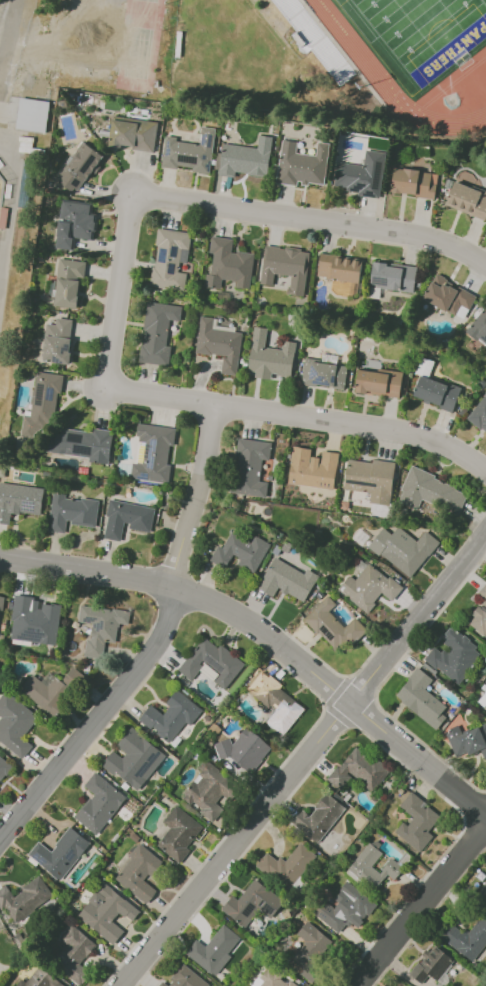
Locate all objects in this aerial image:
park: (426, 31)
park: (418, 33)
building: (315, 39)
track: (391, 78)
track: (454, 81)
building: (31, 114)
building: (135, 135)
rooftop solar panel: (209, 139)
rooftop solar panel: (203, 140)
rooftop solar panel: (167, 150)
building: (190, 152)
rooftop solar panel: (203, 157)
building: (247, 158)
rooftop solar panel: (187, 159)
building: (303, 164)
rooftop solar panel: (207, 166)
building: (80, 168)
building: (362, 175)
rooftop solar panel: (377, 182)
building: (415, 183)
park: (1, 187)
rooftop solar panel: (358, 187)
rooftop solar panel: (368, 192)
building: (468, 200)
building: (76, 223)
rooftop solar panel: (174, 250)
rooftop solar panel: (161, 254)
rooftop solar panel: (184, 254)
building: (169, 260)
building: (229, 265)
building: (285, 266)
rooftop solar panel: (171, 268)
building: (339, 268)
building: (393, 276)
rooftop solar panel: (380, 281)
building: (70, 282)
building: (449, 296)
road: (120, 303)
building: (479, 327)
building: (158, 334)
building: (57, 343)
building: (221, 344)
rooftop solar panel: (67, 347)
building: (269, 356)
rooftop solar panel: (59, 360)
rooftop solar panel: (315, 371)
building: (323, 374)
rooftop solar panel: (334, 378)
rooftop solar panel: (321, 380)
building: (379, 382)
rooftop solar panel: (66, 386)
building: (434, 389)
rooftop solar panel: (40, 390)
rooftop solar panel: (50, 390)
building: (46, 399)
building: (479, 414)
building: (82, 442)
rooftop solar panel: (63, 448)
rooftop solar panel: (83, 451)
rooftop solar panel: (150, 453)
building: (154, 454)
building: (249, 467)
building: (312, 468)
rooftop solar panel: (21, 473)
building: (369, 479)
building: (431, 492)
building: (18, 500)
rooftop solar panel: (27, 505)
building: (74, 513)
building: (126, 519)
building: (402, 549)
building: (240, 551)
building: (286, 580)
building: (368, 587)
building: (1, 601)
building: (479, 614)
building: (34, 620)
building: (332, 625)
building: (100, 626)
rooftop solar panel: (325, 632)
rooftop solar panel: (32, 634)
road: (265, 635)
road: (157, 649)
building: (453, 655)
building: (211, 662)
building: (51, 690)
building: (421, 698)
building: (274, 701)
building: (484, 706)
building: (170, 715)
building: (14, 723)
building: (468, 740)
building: (243, 749)
building: (133, 758)
road: (307, 762)
building: (4, 767)
building: (358, 770)
building: (209, 790)
building: (98, 803)
building: (318, 818)
building: (417, 822)
building: (177, 833)
building: (59, 852)
building: (287, 865)
building: (372, 867)
building: (138, 872)
building: (482, 892)
building: (23, 898)
building: (251, 903)
rooftop solar panel: (261, 904)
rooftop solar panel: (267, 906)
road: (422, 906)
building: (345, 908)
building: (106, 911)
rooftop solar panel: (247, 911)
building: (466, 938)
building: (214, 950)
building: (310, 950)
building: (71, 953)
building: (431, 964)
building: (184, 978)
building: (38, 979)
building: (274, 979)

